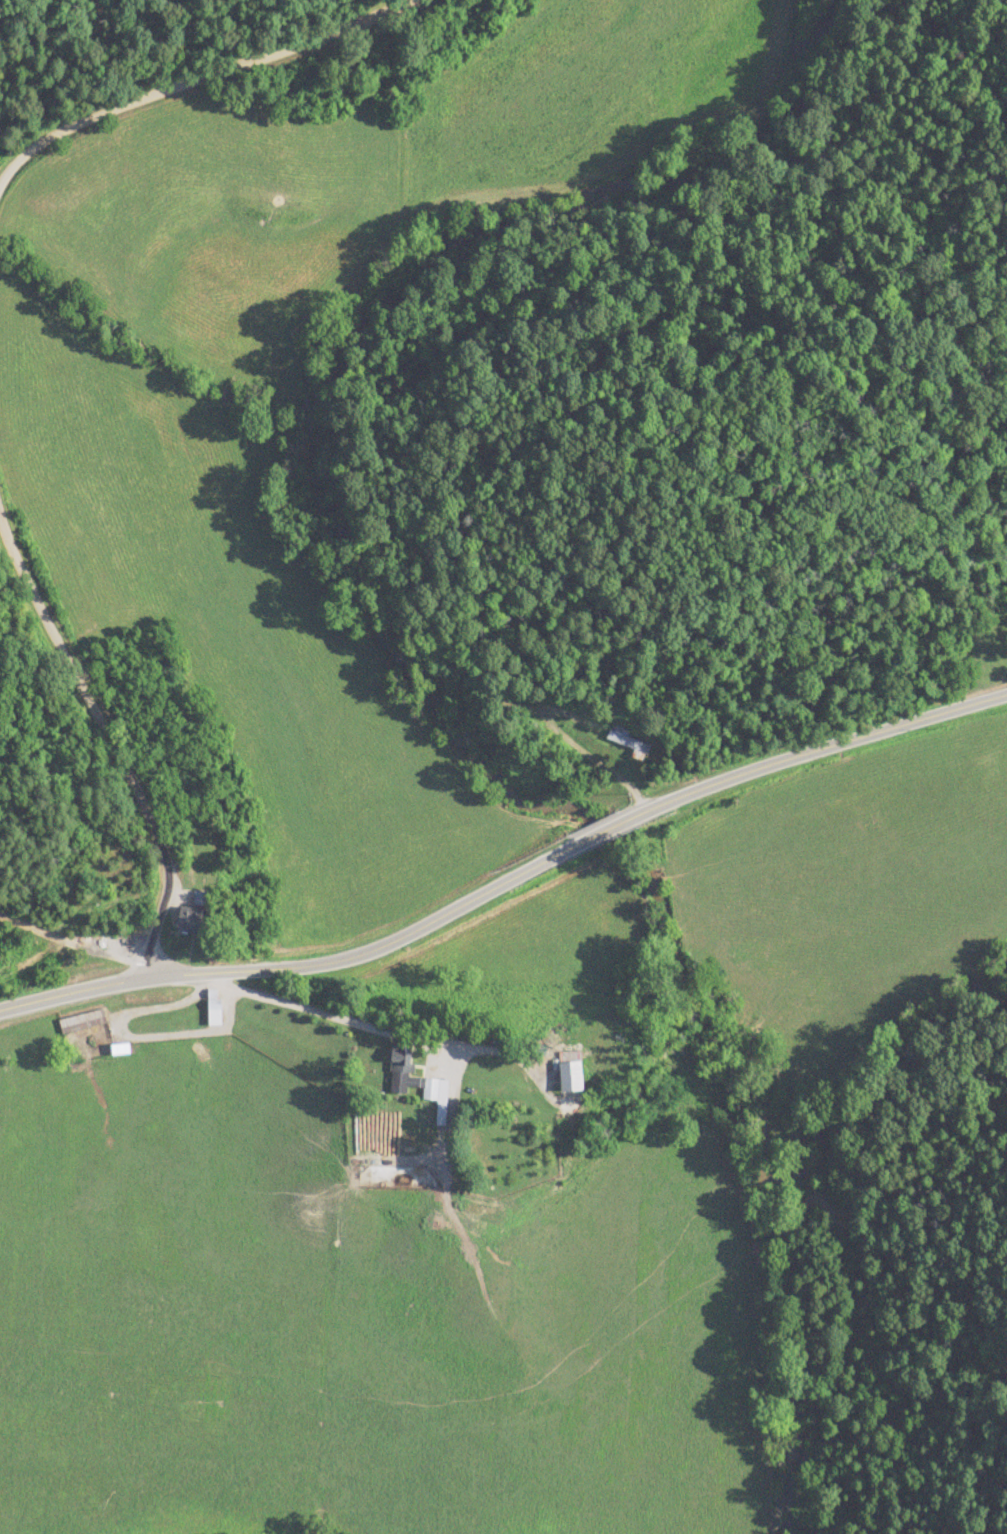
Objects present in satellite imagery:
road: (0, 382)
river: (406, 656)
building: (628, 741)
road: (815, 753)
road: (602, 832)
building: (189, 923)
road: (300, 967)
building: (214, 1012)
building: (83, 1021)
road: (378, 1040)
building: (409, 1075)
building: (570, 1075)
road: (444, 1119)

